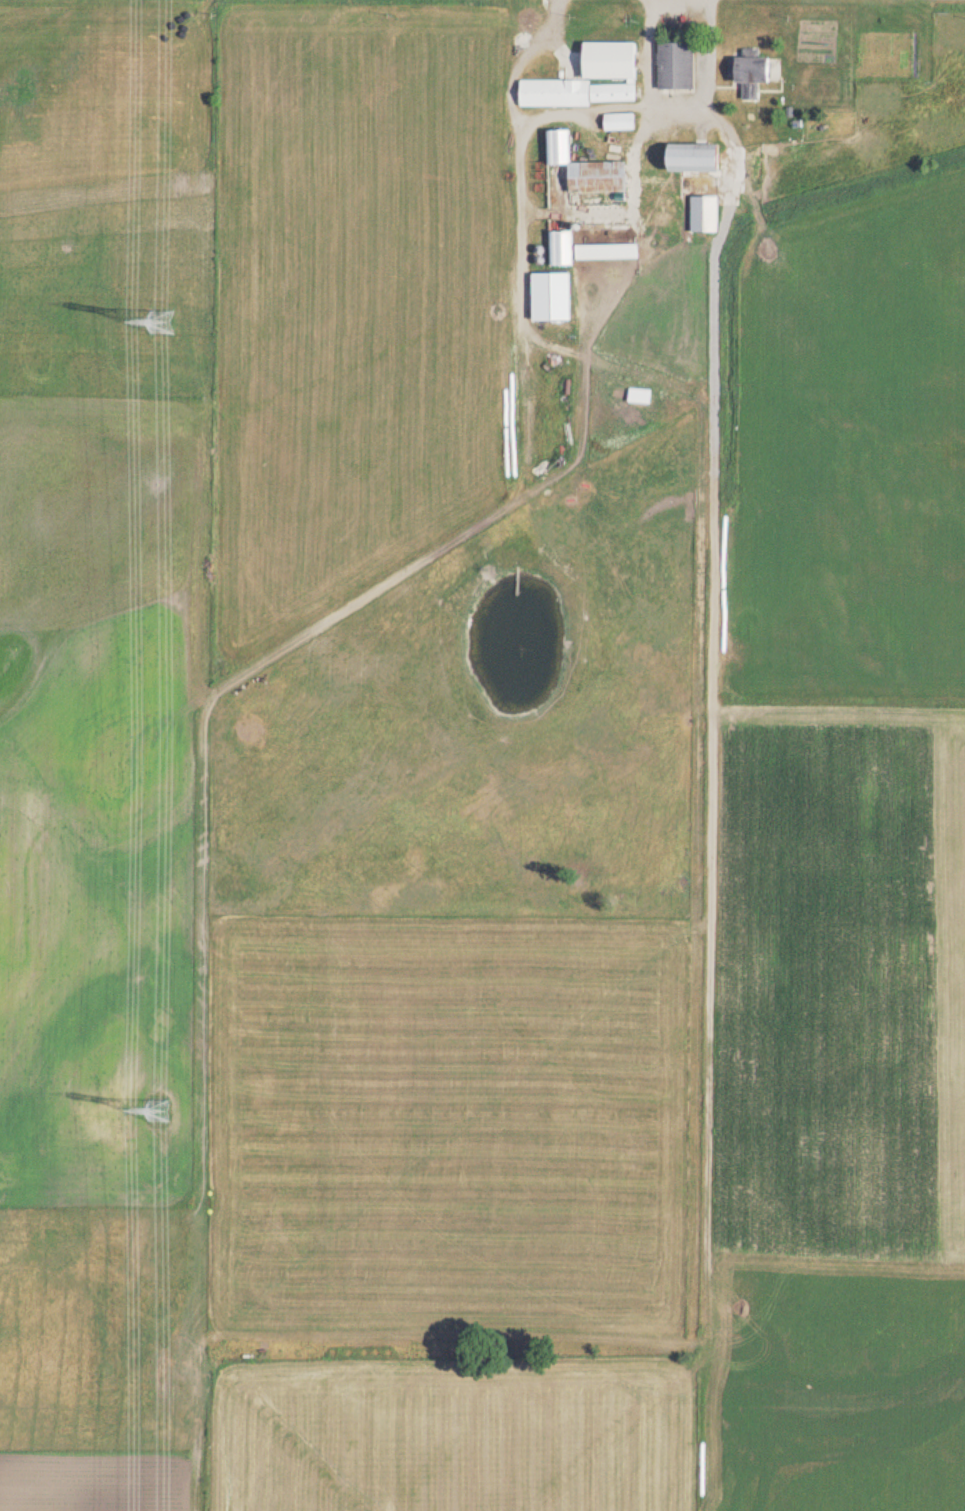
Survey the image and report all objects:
building: (681, 68)
building: (588, 78)
building: (761, 78)
road: (632, 105)
road: (516, 154)
building: (681, 169)
building: (604, 188)
building: (710, 217)
building: (605, 255)
building: (562, 297)
power tower: (166, 326)
power tower: (165, 1113)

